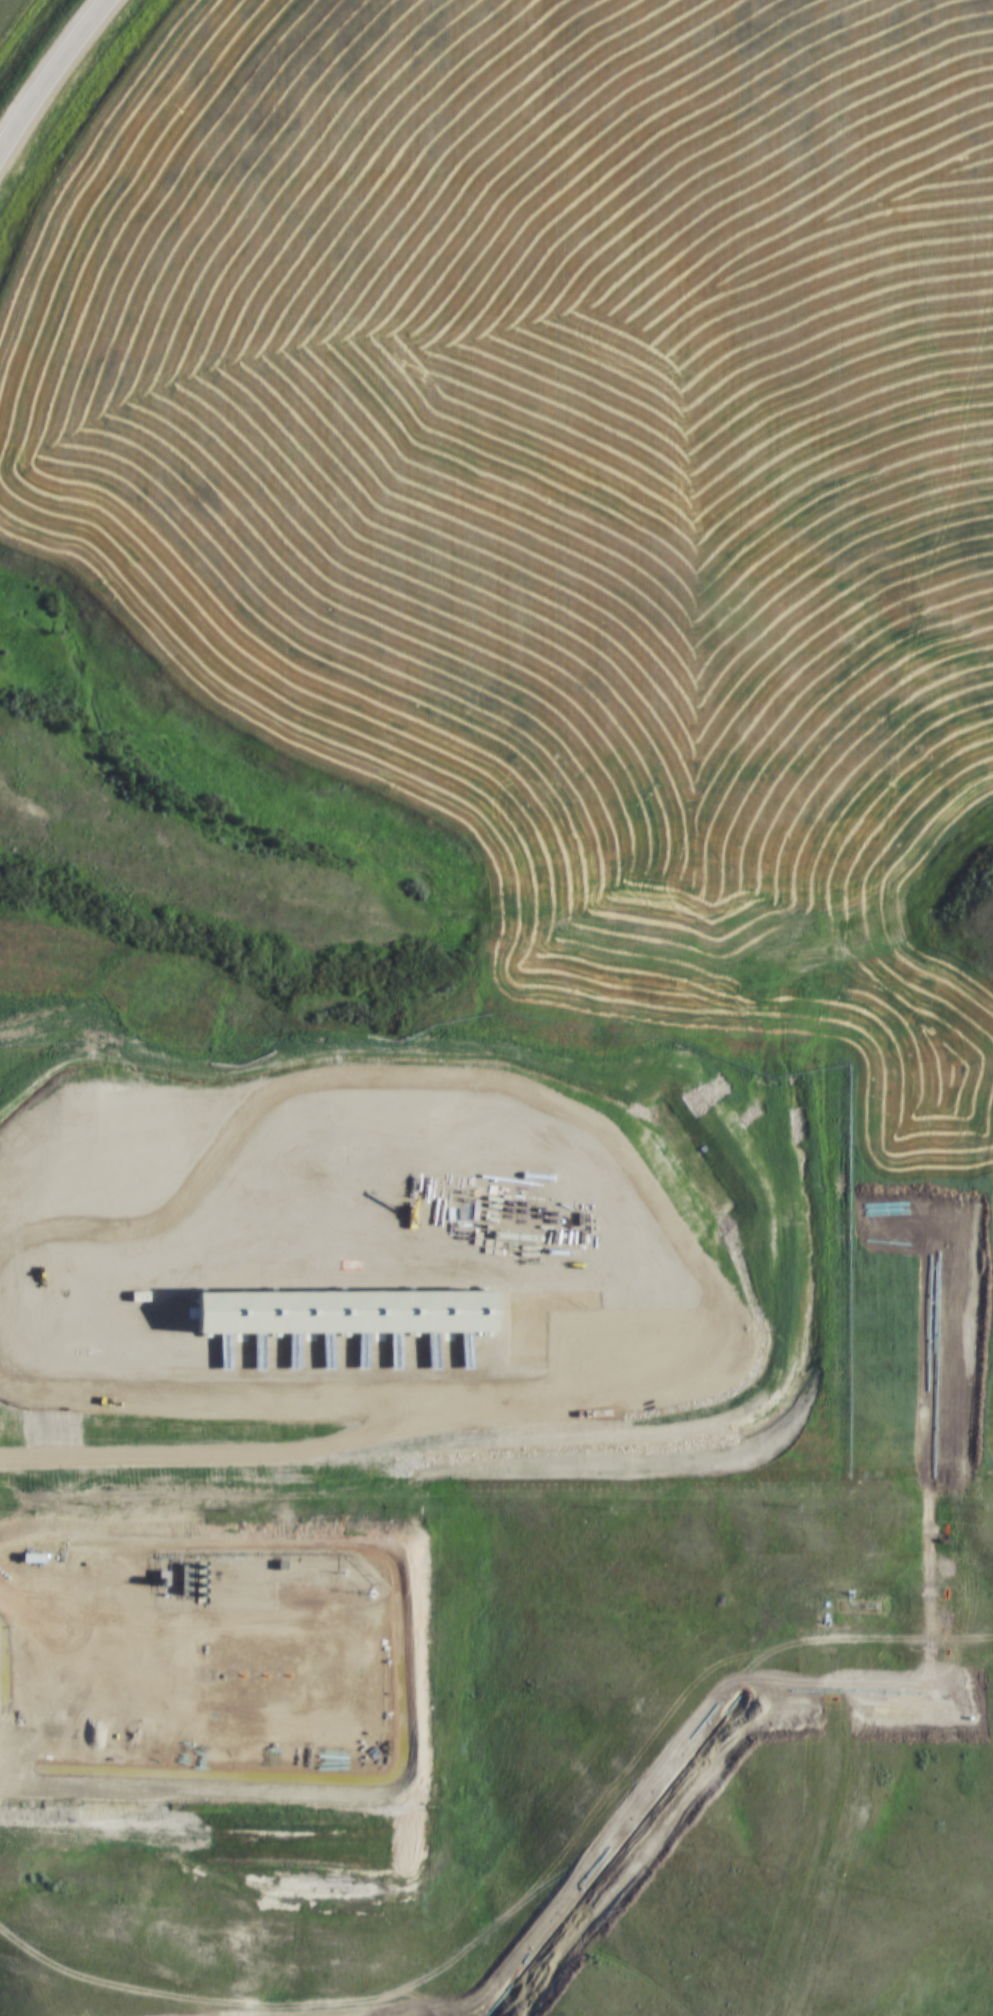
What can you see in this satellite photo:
road: (51, 77)

